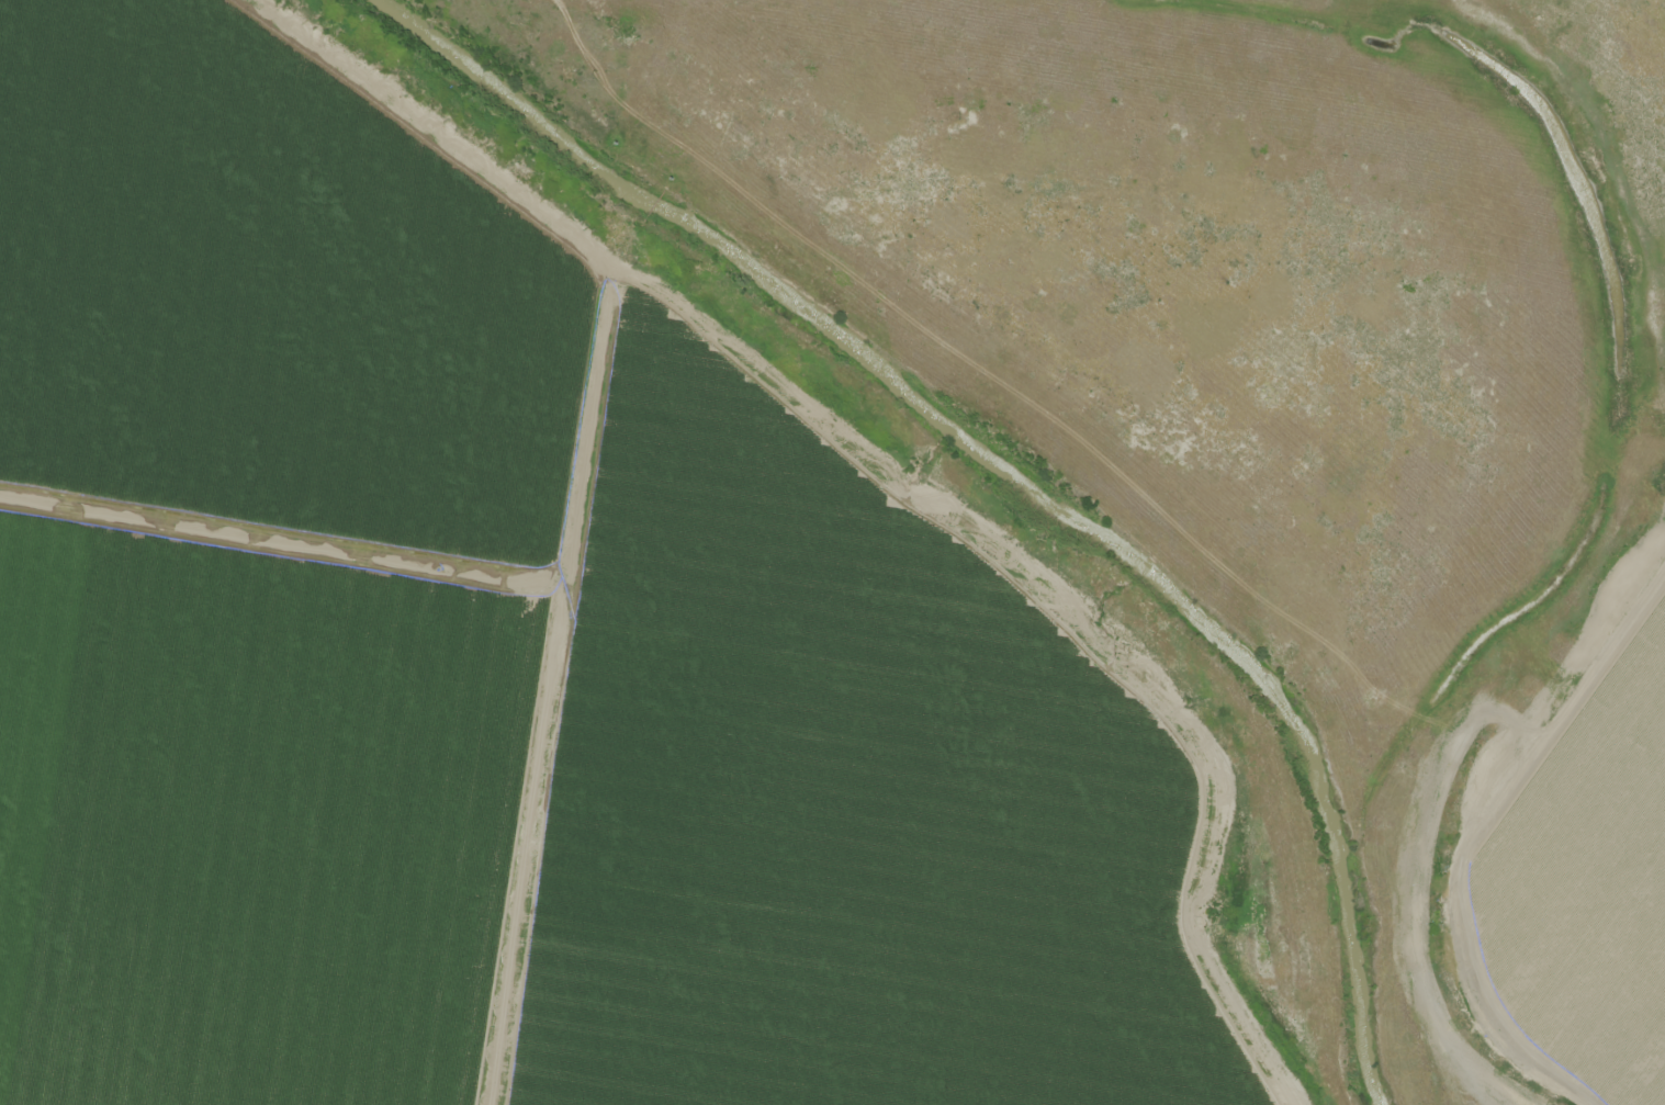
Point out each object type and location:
river: (904, 390)

